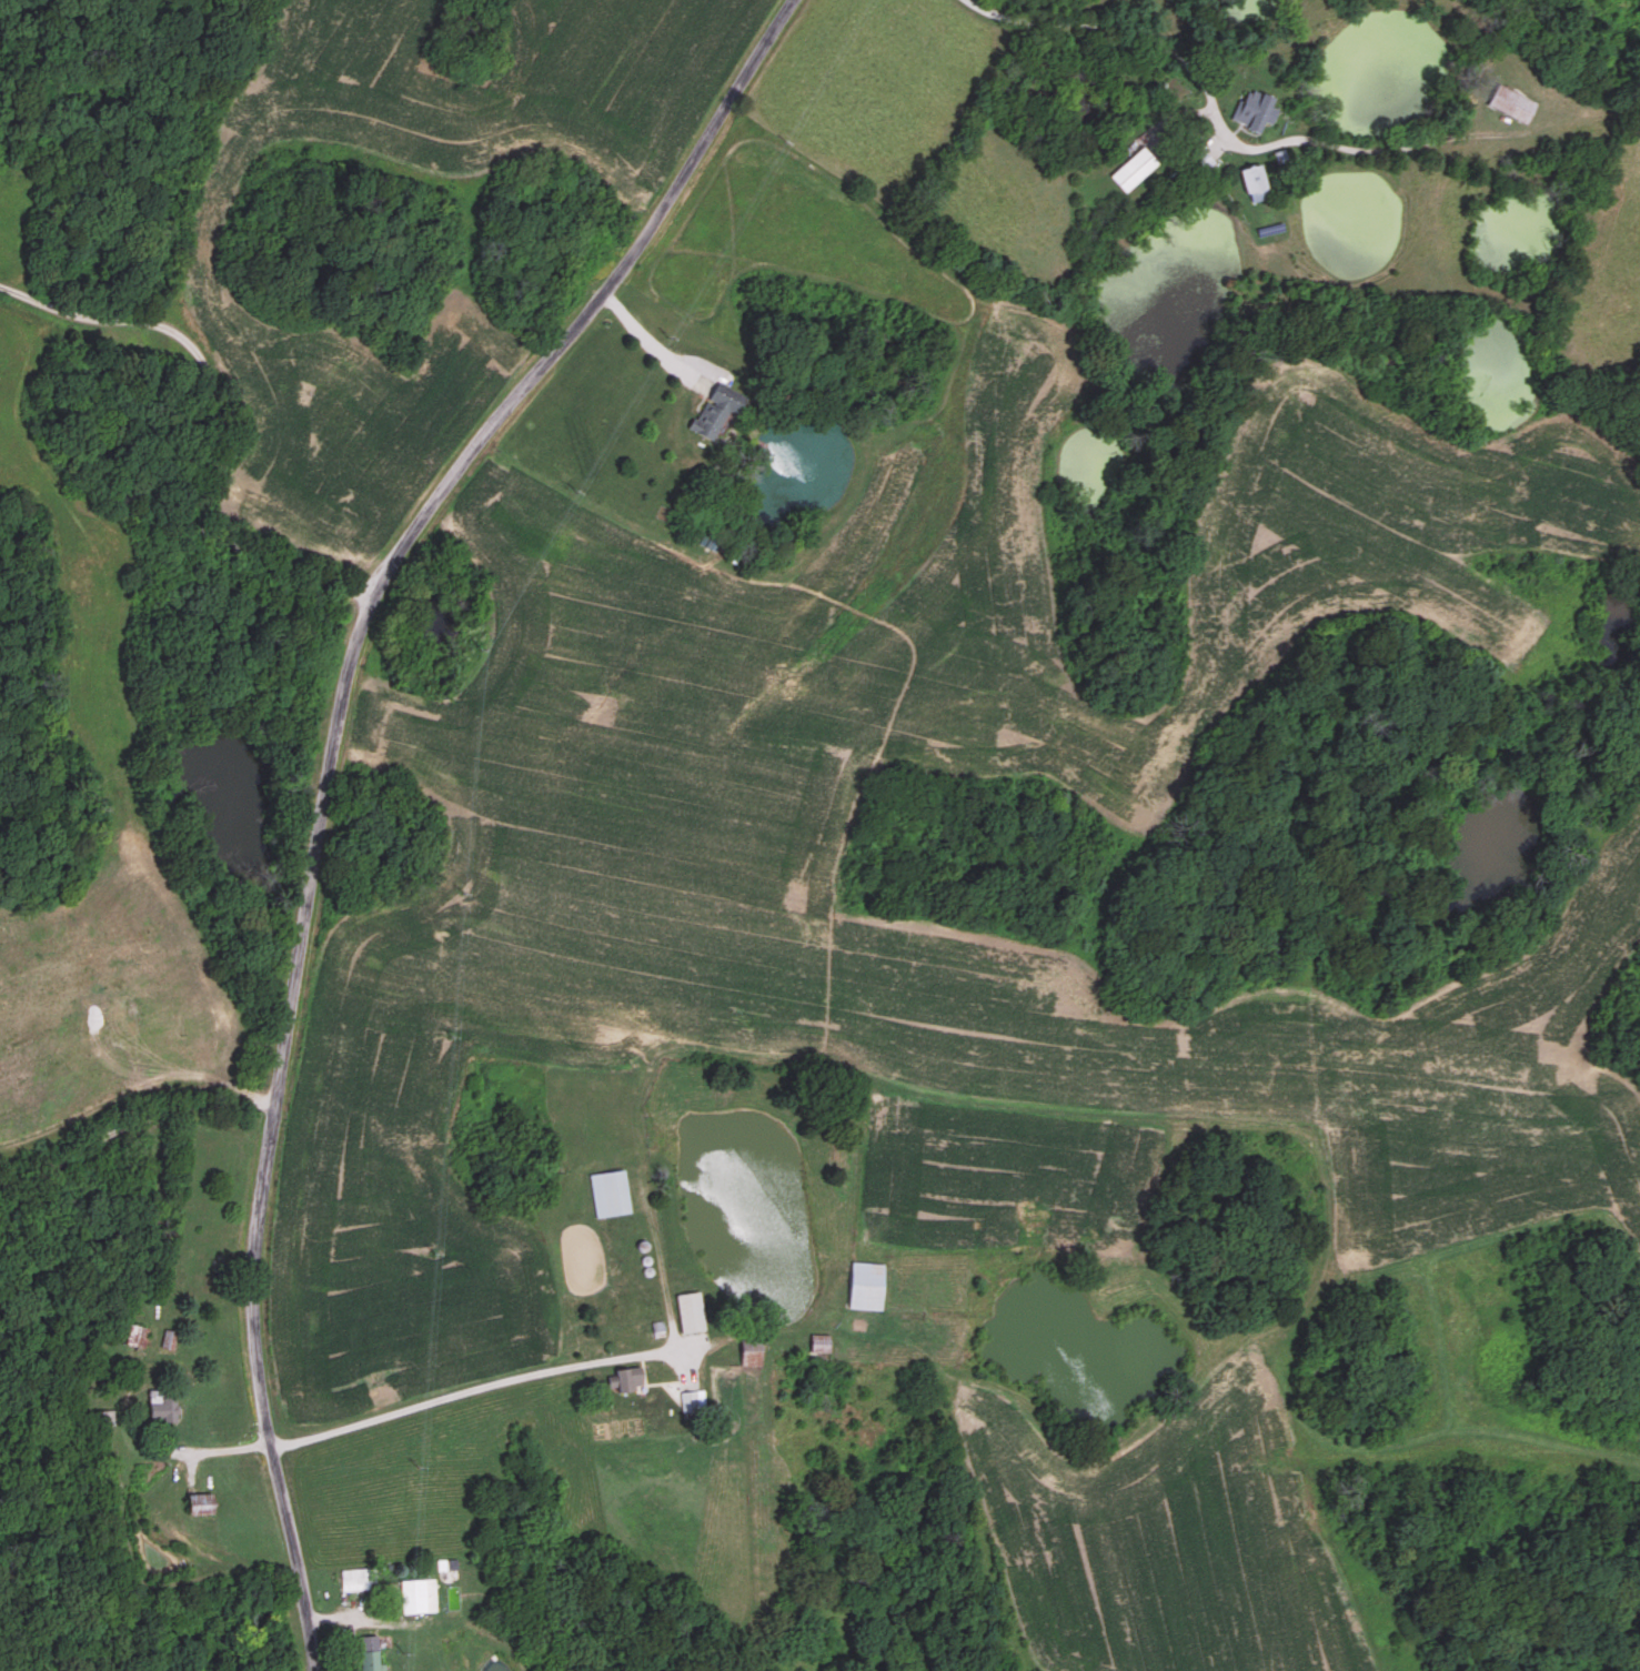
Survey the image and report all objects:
building: (1518, 104)
building: (1251, 112)
road: (1219, 124)
building: (1137, 171)
building: (1259, 184)
road: (643, 338)
building: (724, 412)
road: (205, 436)
road: (325, 769)
road: (132, 1149)
building: (613, 1192)
road: (143, 1226)
building: (868, 1286)
building: (693, 1312)
building: (135, 1335)
building: (755, 1357)
building: (626, 1379)
road: (482, 1385)
building: (694, 1400)
building: (165, 1406)
road: (217, 1449)
building: (207, 1503)
building: (356, 1579)
building: (420, 1595)
building: (370, 1653)

